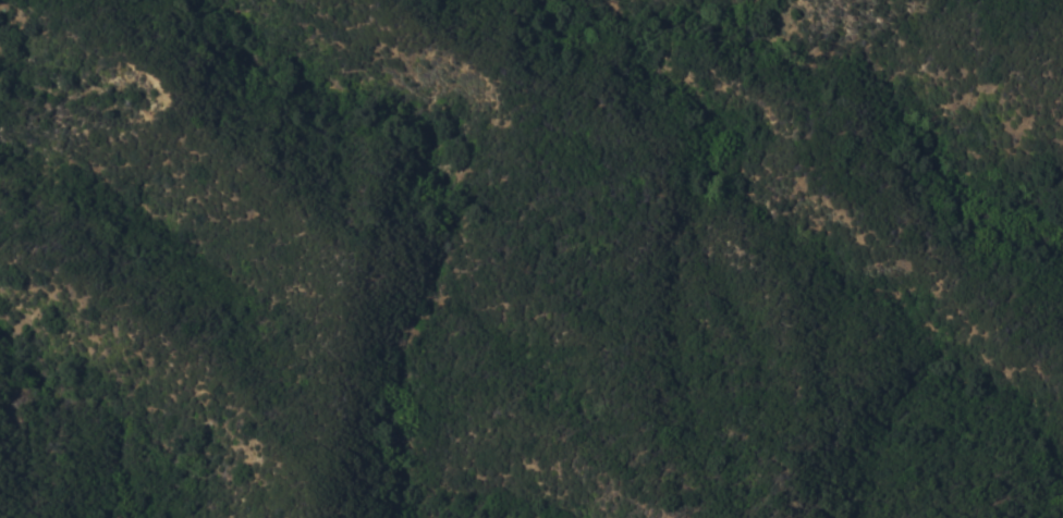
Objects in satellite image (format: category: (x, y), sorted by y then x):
road: (4, 12)

